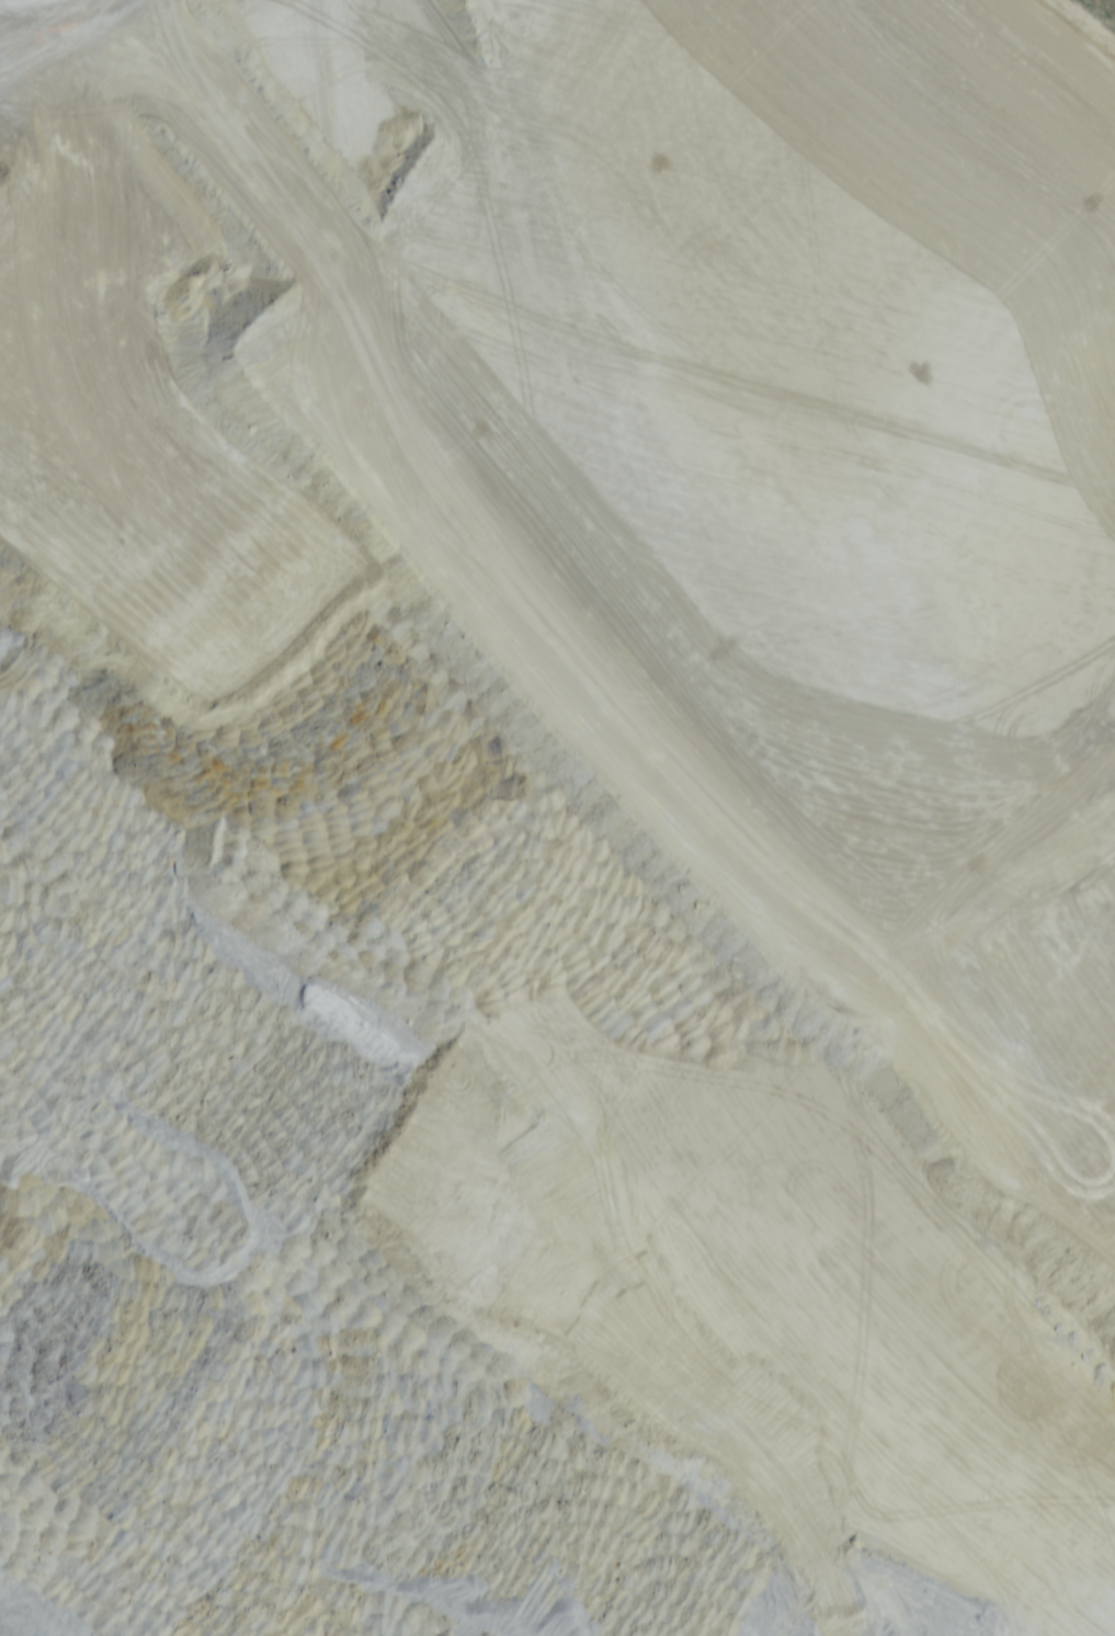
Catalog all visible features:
road: (924, 1429)
road: (480, 1533)
road: (949, 1621)

